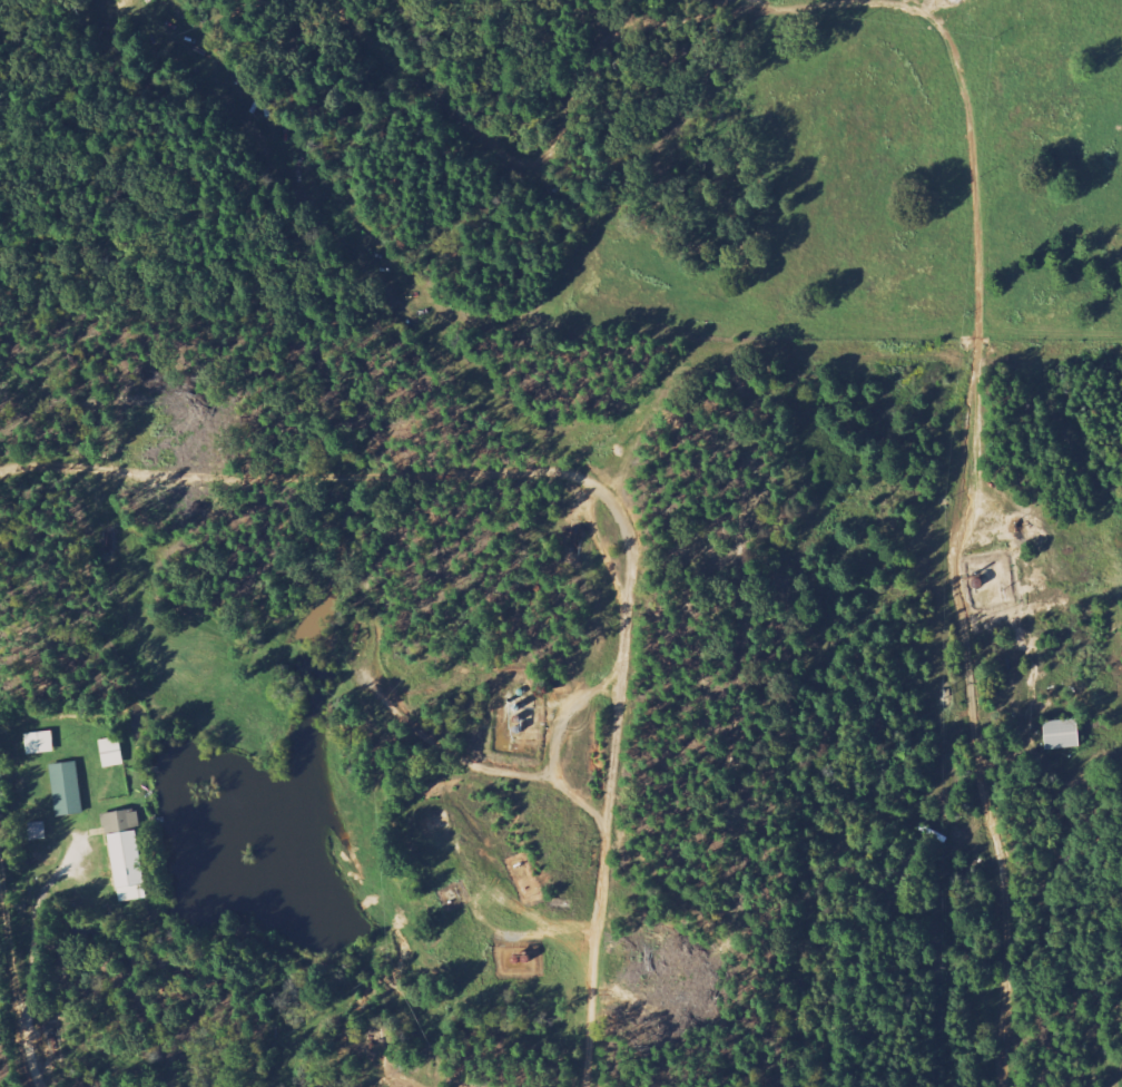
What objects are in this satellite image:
road: (965, 85)
road: (963, 618)
building: (1060, 734)
building: (38, 743)
building: (66, 789)
building: (37, 831)
building: (125, 855)
road: (11, 944)
road: (1005, 991)
road: (31, 1061)

